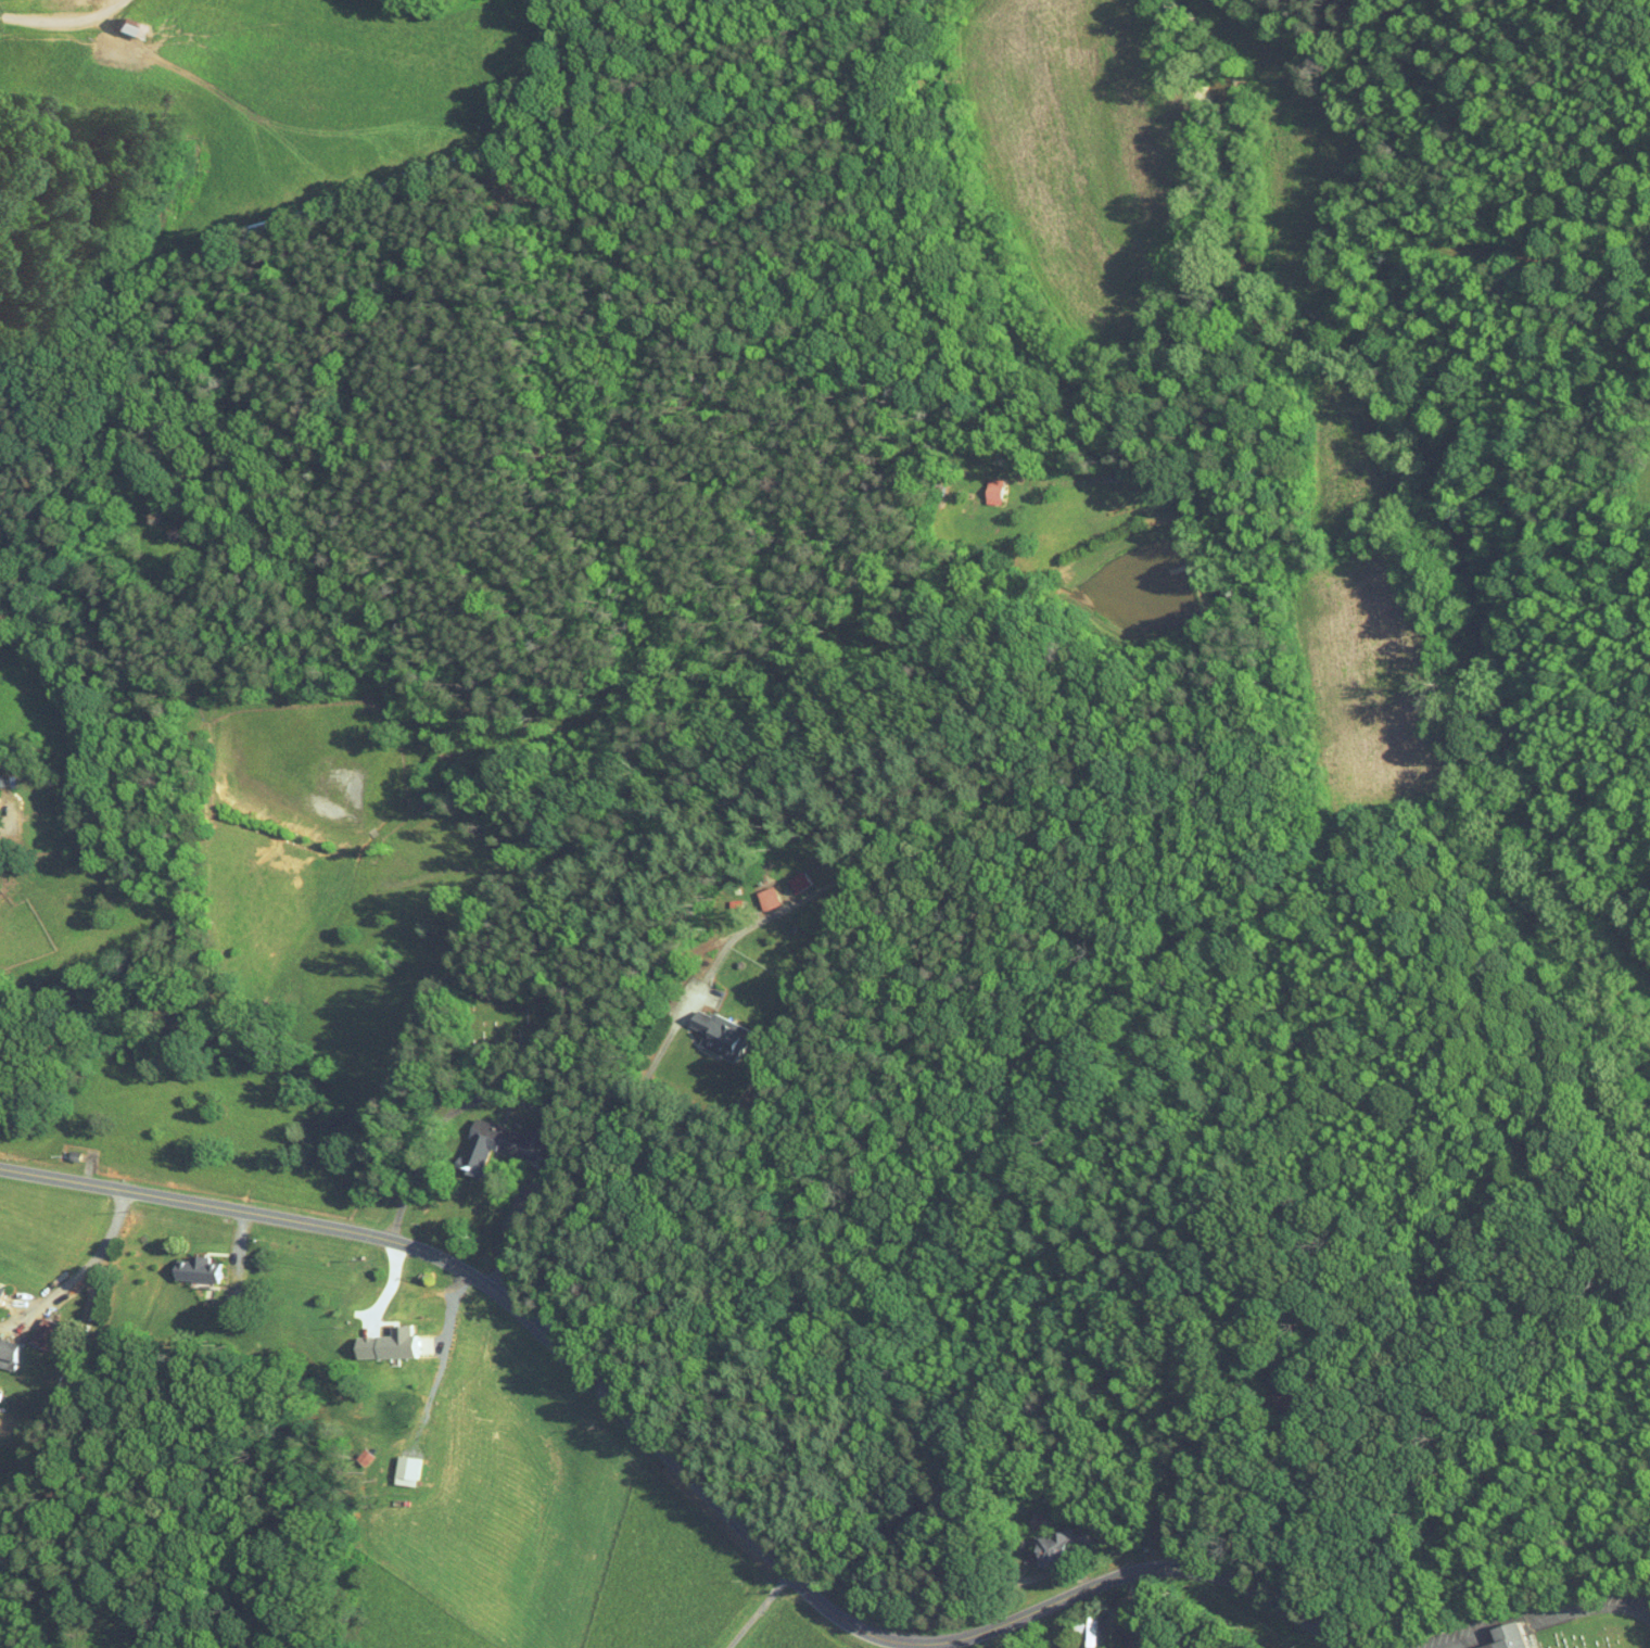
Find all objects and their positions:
building: (115, 18)
building: (987, 484)
building: (166, 523)
road: (2, 833)
building: (791, 875)
building: (760, 891)
building: (713, 1028)
road: (441, 1120)
building: (495, 1137)
road: (605, 1158)
building: (191, 1264)
road: (77, 1272)
building: (38, 1329)
building: (382, 1338)
building: (4, 1348)
building: (398, 1465)
road: (676, 1466)
building: (1053, 1542)
road: (759, 1611)
road: (1543, 1618)
building: (1079, 1627)
park: (1595, 1633)

